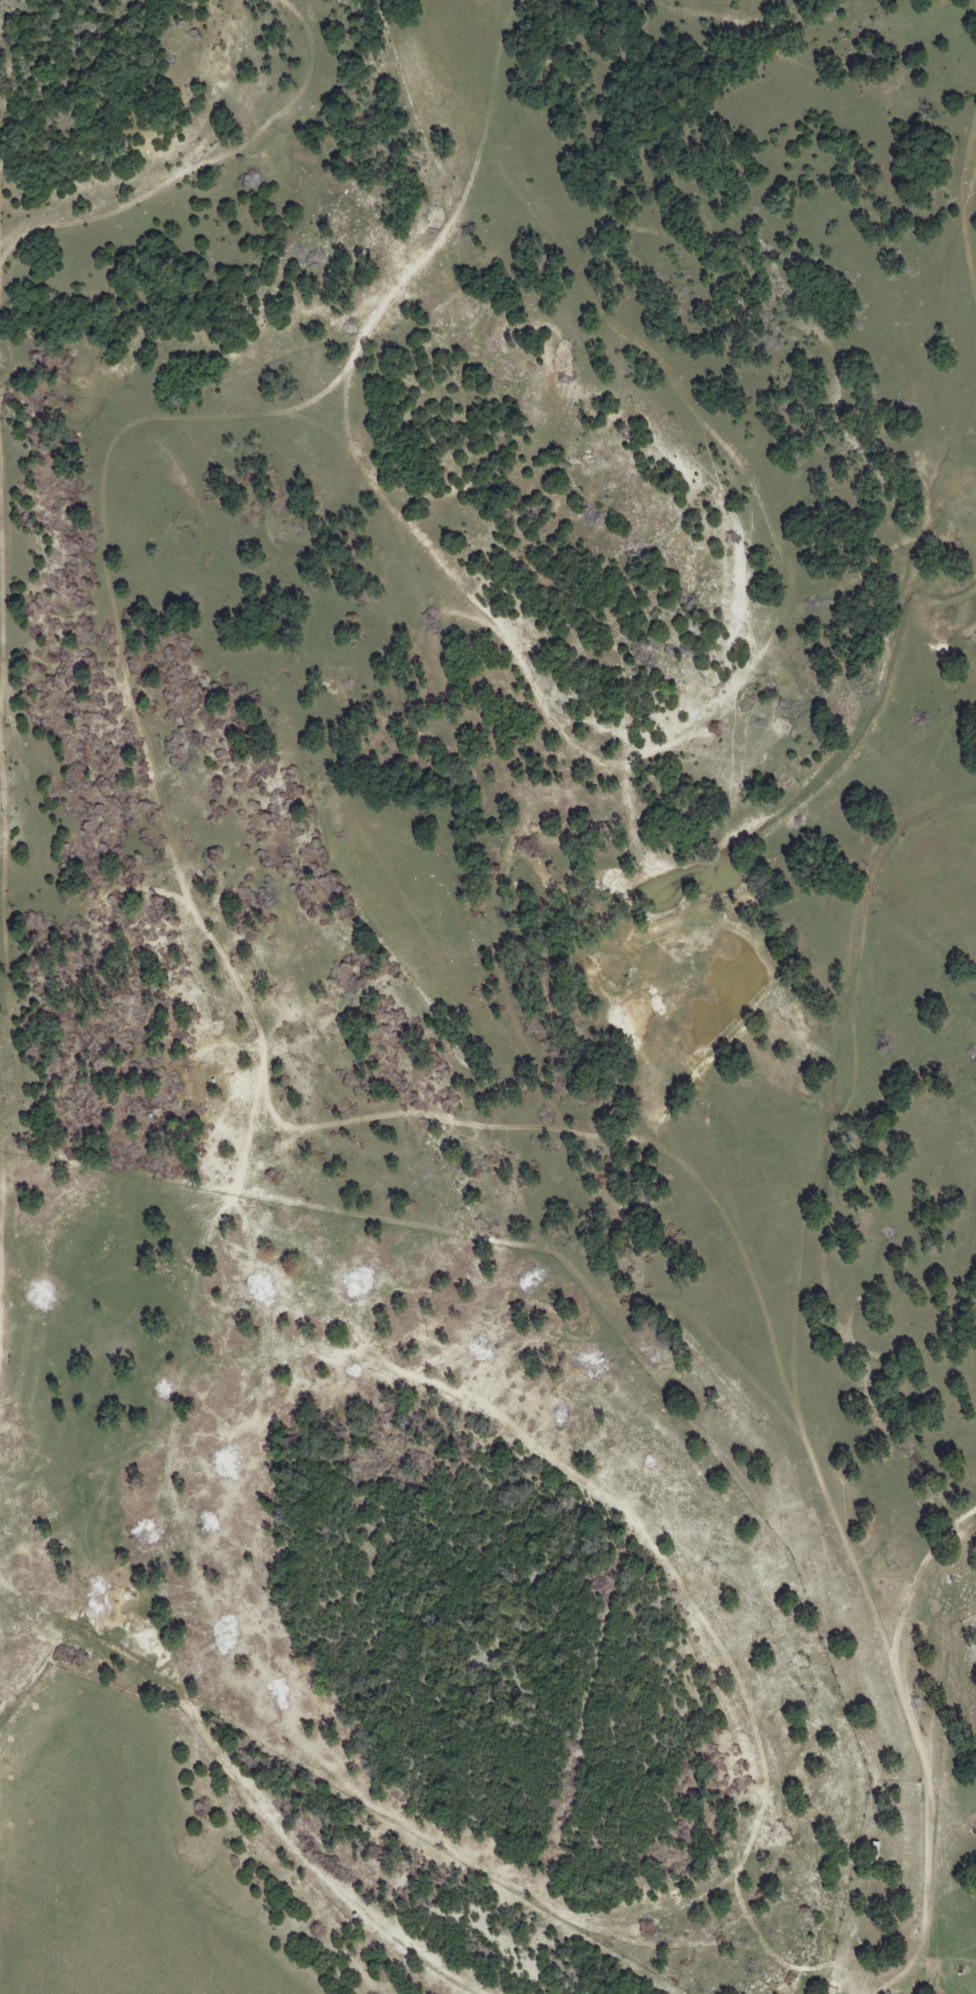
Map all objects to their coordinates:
road: (918, 1745)

